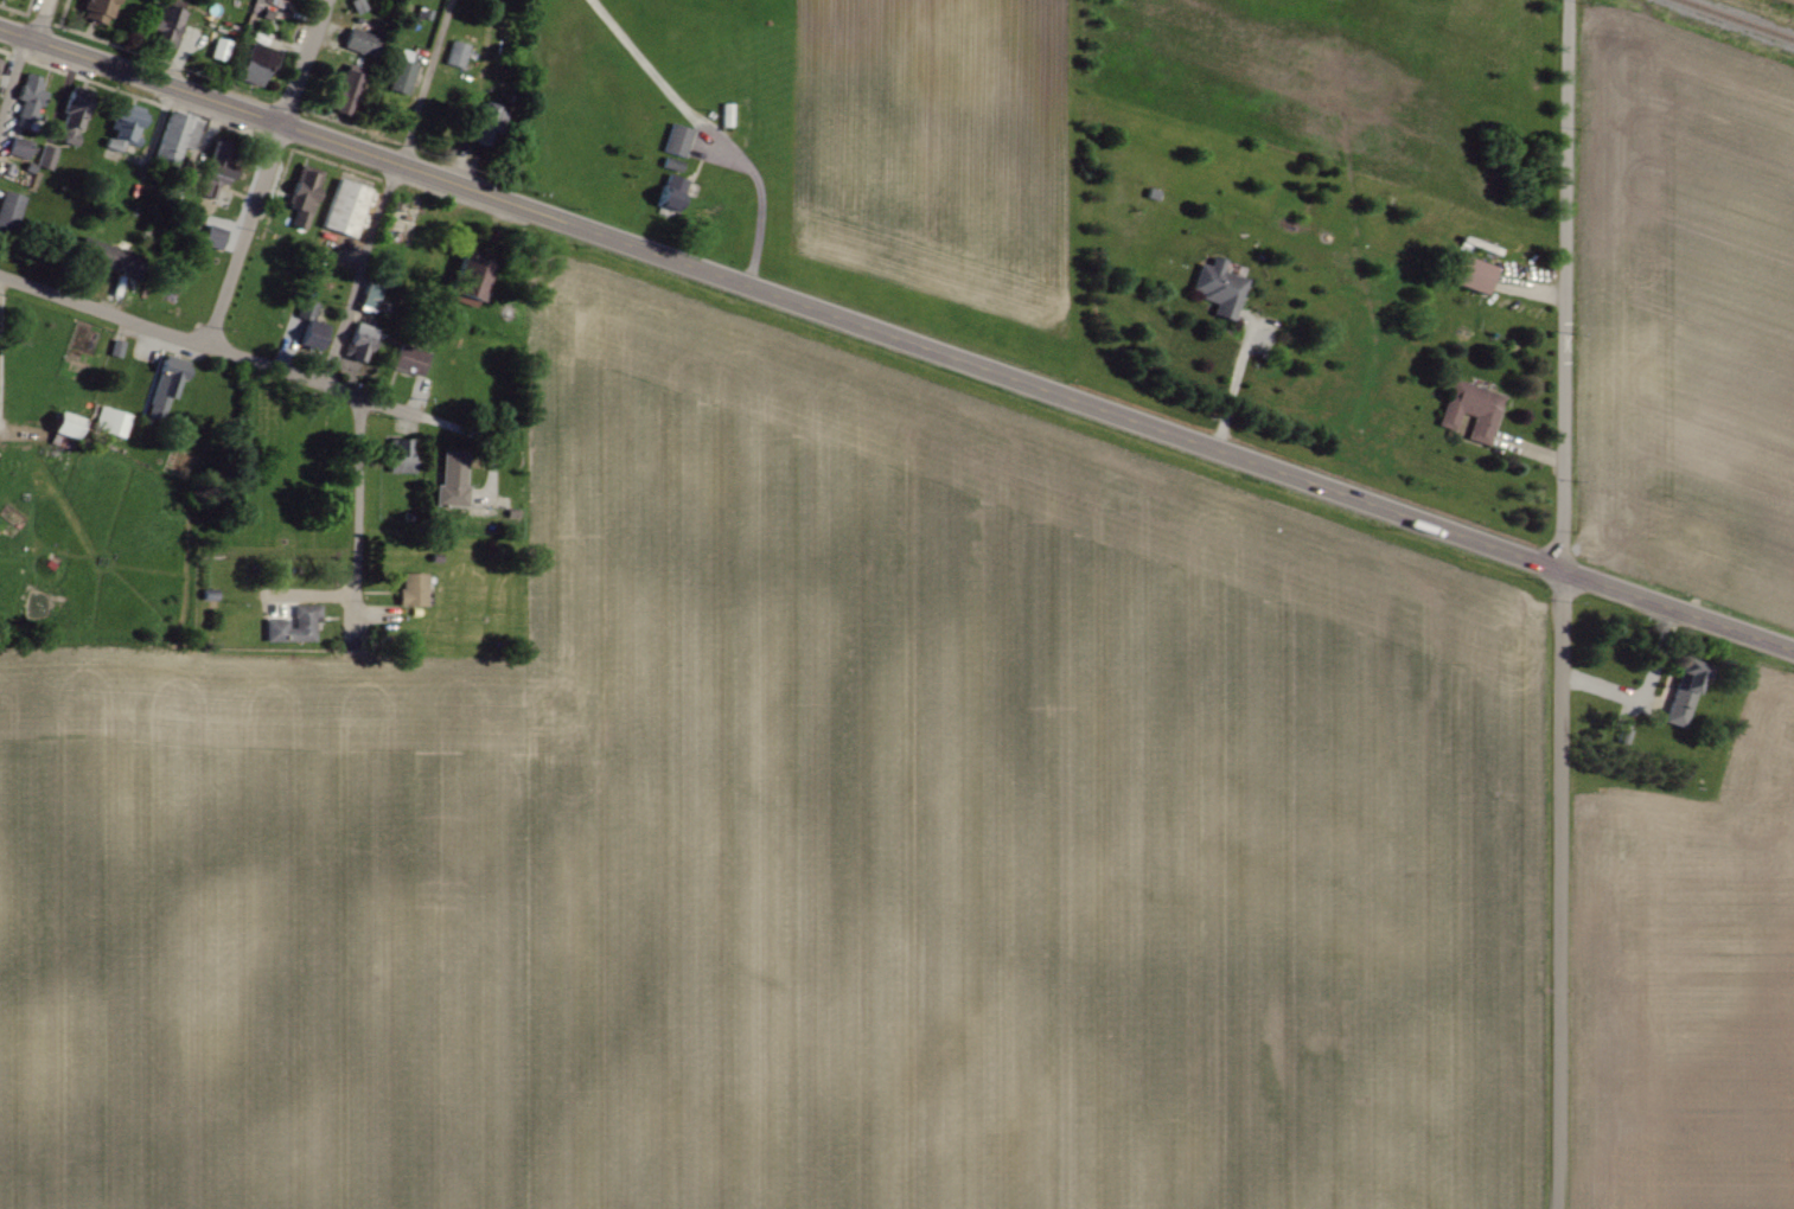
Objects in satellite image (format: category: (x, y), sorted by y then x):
building: (266, 6)
building: (95, 11)
railway: (1739, 18)
building: (162, 26)
building: (356, 41)
building: (455, 55)
road: (20, 57)
road: (636, 62)
building: (0, 63)
building: (251, 65)
building: (401, 73)
building: (343, 94)
building: (27, 97)
building: (71, 114)
building: (483, 123)
building: (121, 127)
building: (173, 137)
building: (675, 140)
building: (18, 147)
building: (45, 158)
building: (670, 164)
building: (215, 168)
road: (266, 172)
road: (384, 190)
building: (668, 193)
building: (302, 196)
building: (9, 210)
building: (344, 210)
building: (211, 237)
building: (108, 254)
road: (663, 256)
building: (1467, 273)
building: (466, 275)
building: (1217, 287)
road: (160, 328)
building: (406, 359)
road: (1232, 383)
building: (1469, 409)
road: (390, 410)
building: (109, 421)
building: (60, 423)
building: (449, 479)
road: (355, 499)
road: (1560, 567)
building: (414, 588)
road: (1562, 603)
building: (295, 625)
building: (1684, 692)

